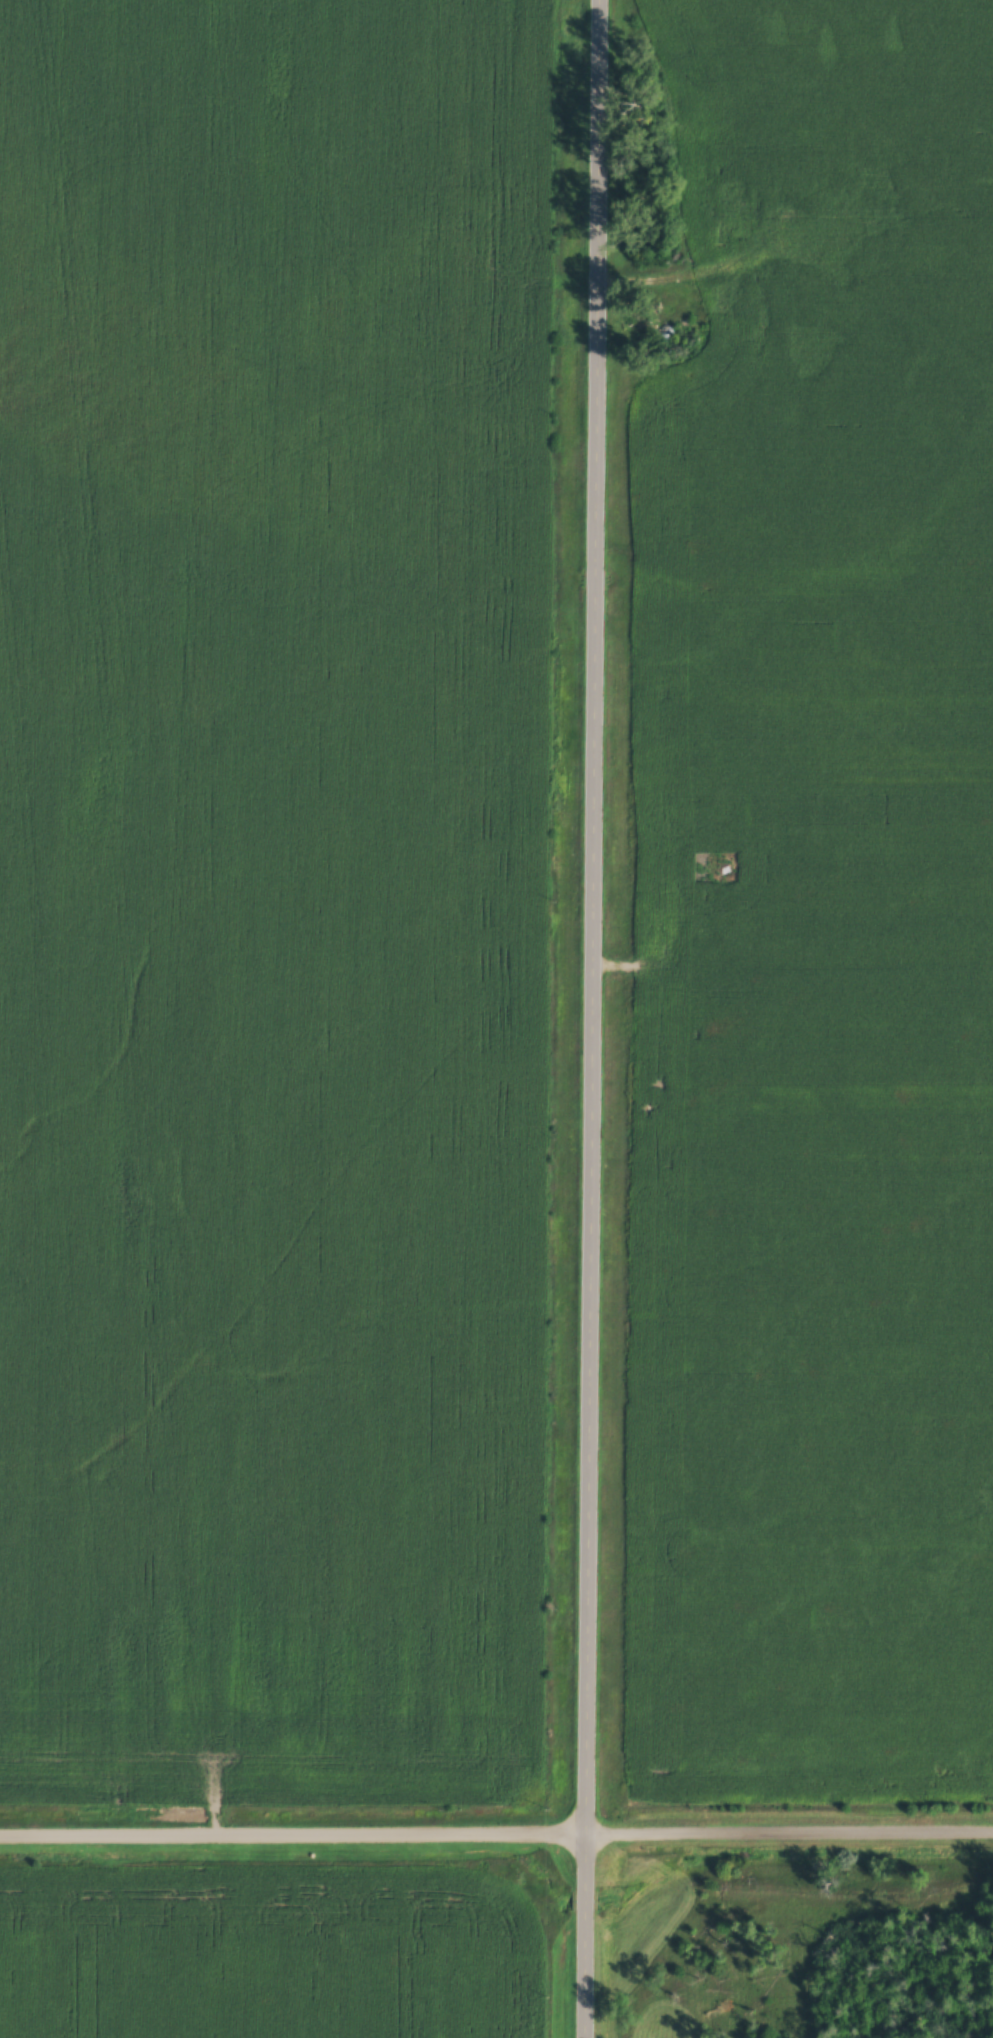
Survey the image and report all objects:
building: (893, 148)
road: (791, 220)
building: (744, 221)
road: (683, 271)
building: (742, 305)
building: (724, 869)
road: (590, 1018)
road: (496, 1831)

